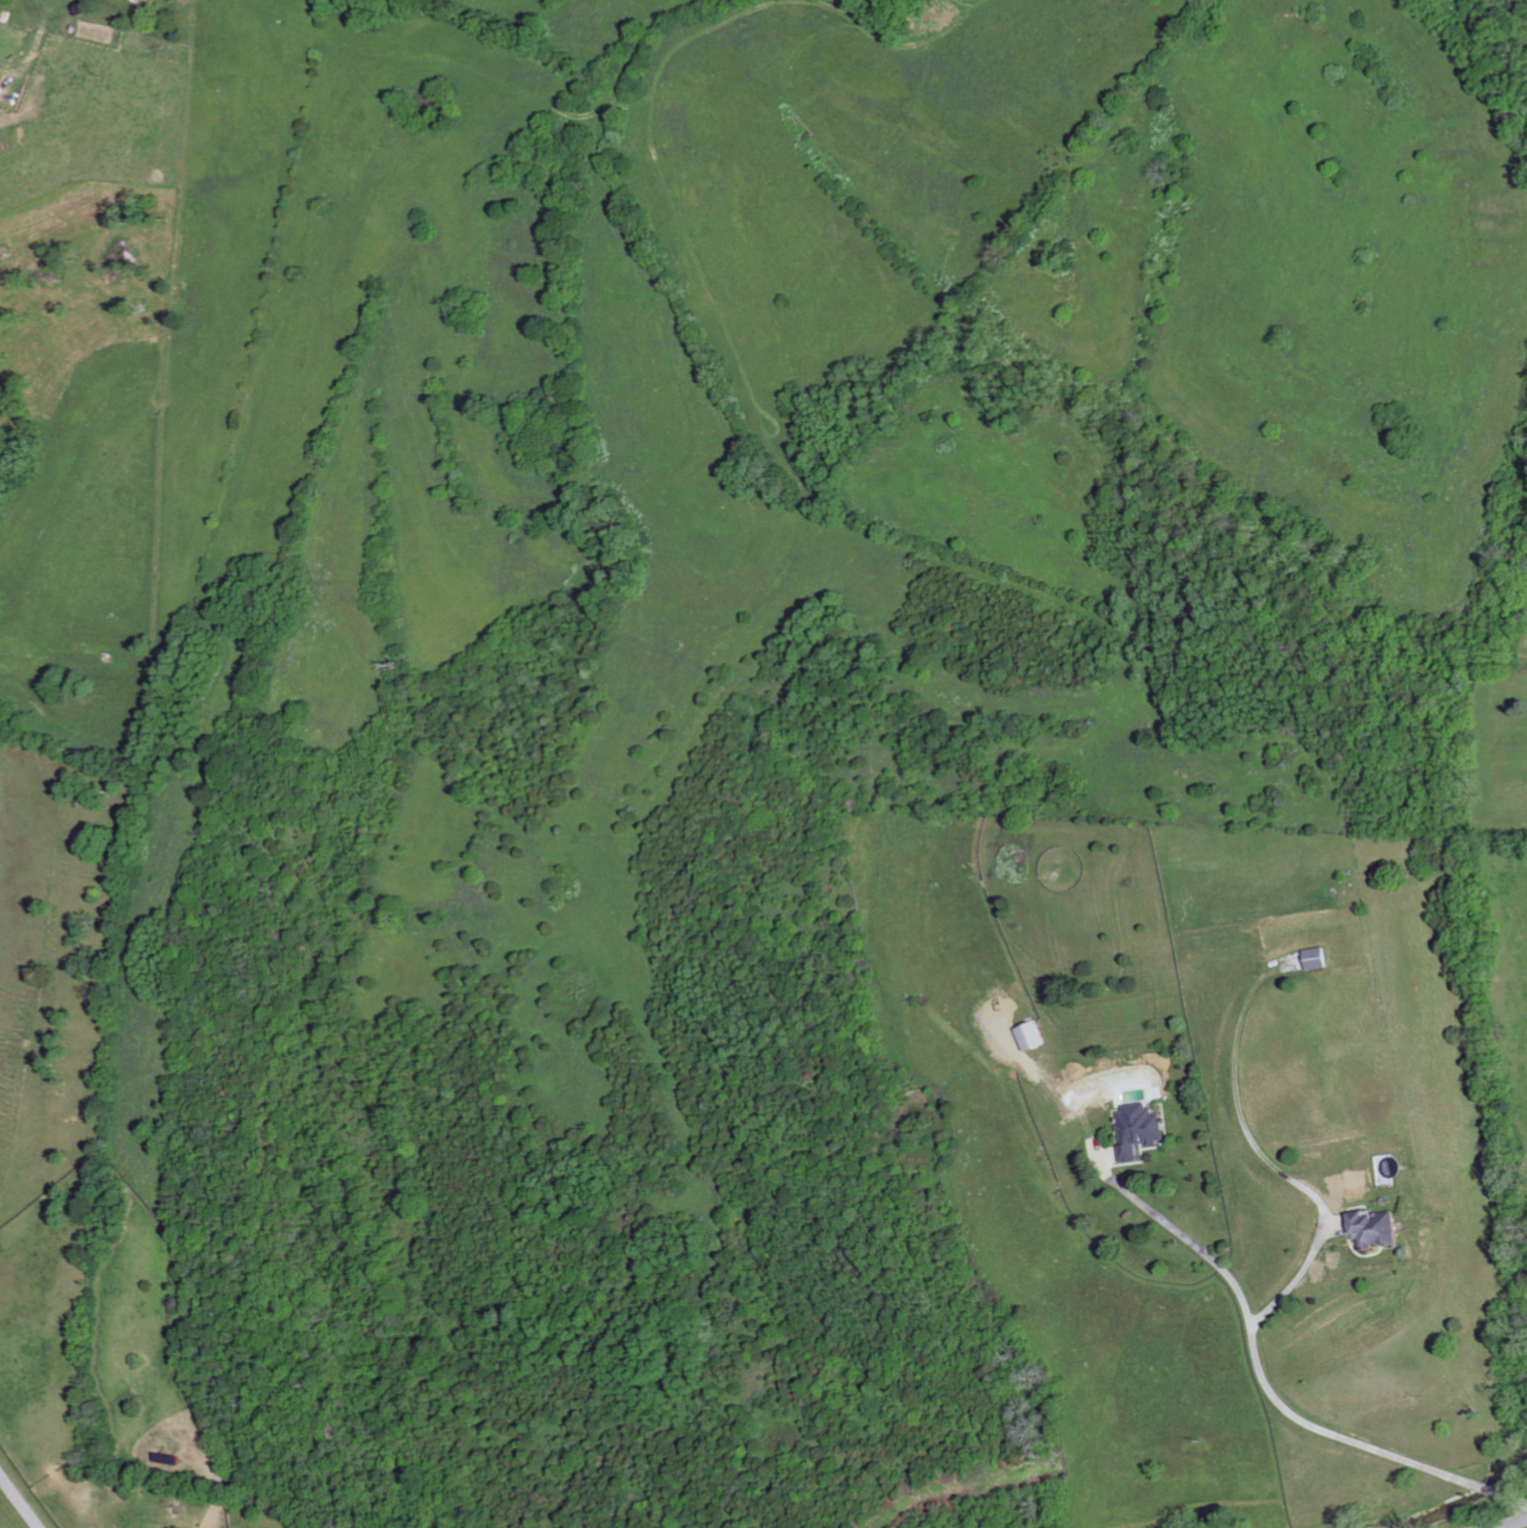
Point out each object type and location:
building: (1320, 958)
building: (1035, 1036)
road: (1241, 1117)
building: (1140, 1129)
building: (1379, 1227)
road: (1296, 1279)
road: (1261, 1366)
road: (1487, 1487)
road: (1512, 1496)
road: (19, 1501)
road: (1513, 1524)

